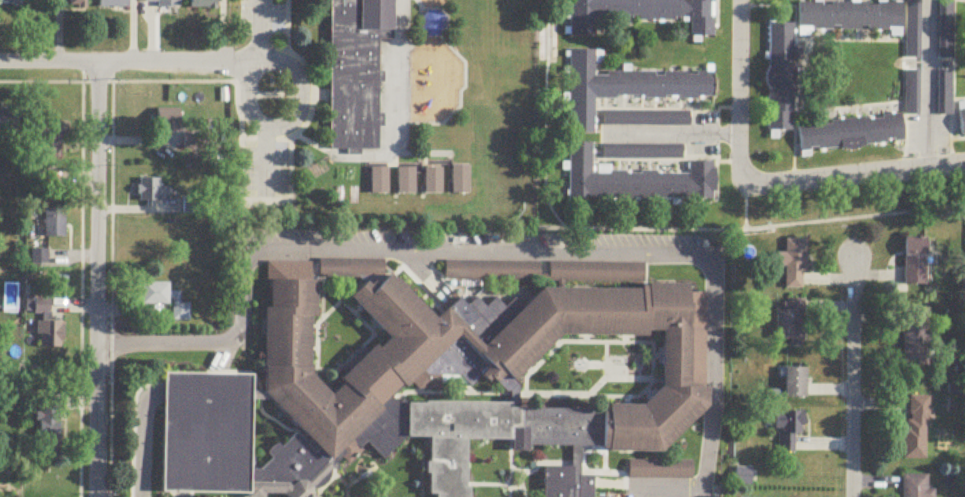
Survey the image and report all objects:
building: (10, 2)
building: (77, 3)
building: (165, 3)
building: (114, 4)
building: (205, 5)
building: (847, 12)
parking lot: (260, 16)
building: (430, 18)
building: (579, 20)
road: (265, 26)
building: (908, 26)
building: (941, 27)
road: (124, 61)
building: (352, 68)
road: (309, 69)
building: (777, 69)
building: (619, 84)
road: (926, 84)
building: (909, 90)
building: (942, 90)
road: (740, 96)
building: (646, 114)
road: (296, 117)
building: (960, 117)
building: (10, 120)
building: (168, 121)
building: (849, 130)
road: (673, 131)
parking lot: (929, 134)
road: (312, 141)
building: (51, 143)
building: (642, 148)
road: (271, 156)
road: (348, 162)
parking lot: (265, 166)
building: (432, 174)
building: (459, 174)
building: (404, 175)
building: (376, 176)
building: (639, 176)
road: (860, 176)
building: (38, 180)
building: (149, 191)
building: (191, 206)
building: (54, 224)
parking lot: (485, 239)
road: (488, 251)
building: (38, 258)
road: (405, 259)
building: (348, 260)
building: (915, 263)
building: (489, 264)
building: (793, 264)
building: (593, 266)
road: (425, 272)
road: (414, 275)
road: (97, 279)
road: (314, 285)
building: (164, 299)
building: (37, 307)
building: (791, 322)
road: (314, 326)
building: (50, 336)
building: (916, 337)
road: (356, 343)
road: (607, 354)
building: (367, 360)
road: (652, 363)
building: (578, 364)
road: (238, 367)
road: (854, 378)
building: (674, 385)
building: (796, 385)
building: (508, 389)
road: (448, 391)
road: (511, 391)
road: (522, 391)
road: (268, 415)
building: (48, 428)
building: (200, 429)
parking garage: (200, 429)
road: (131, 430)
building: (789, 431)
building: (917, 431)
road: (140, 440)
road: (606, 455)
road: (536, 457)
building: (662, 465)
building: (287, 466)
road: (417, 467)
road: (609, 468)
road: (335, 473)
building: (566, 477)
road: (611, 481)
road: (509, 483)
road: (668, 483)
parking lot: (662, 485)
building: (917, 487)
road: (525, 488)
road: (513, 490)
road: (172, 493)
road: (181, 493)
road: (191, 493)
building: (323, 496)

